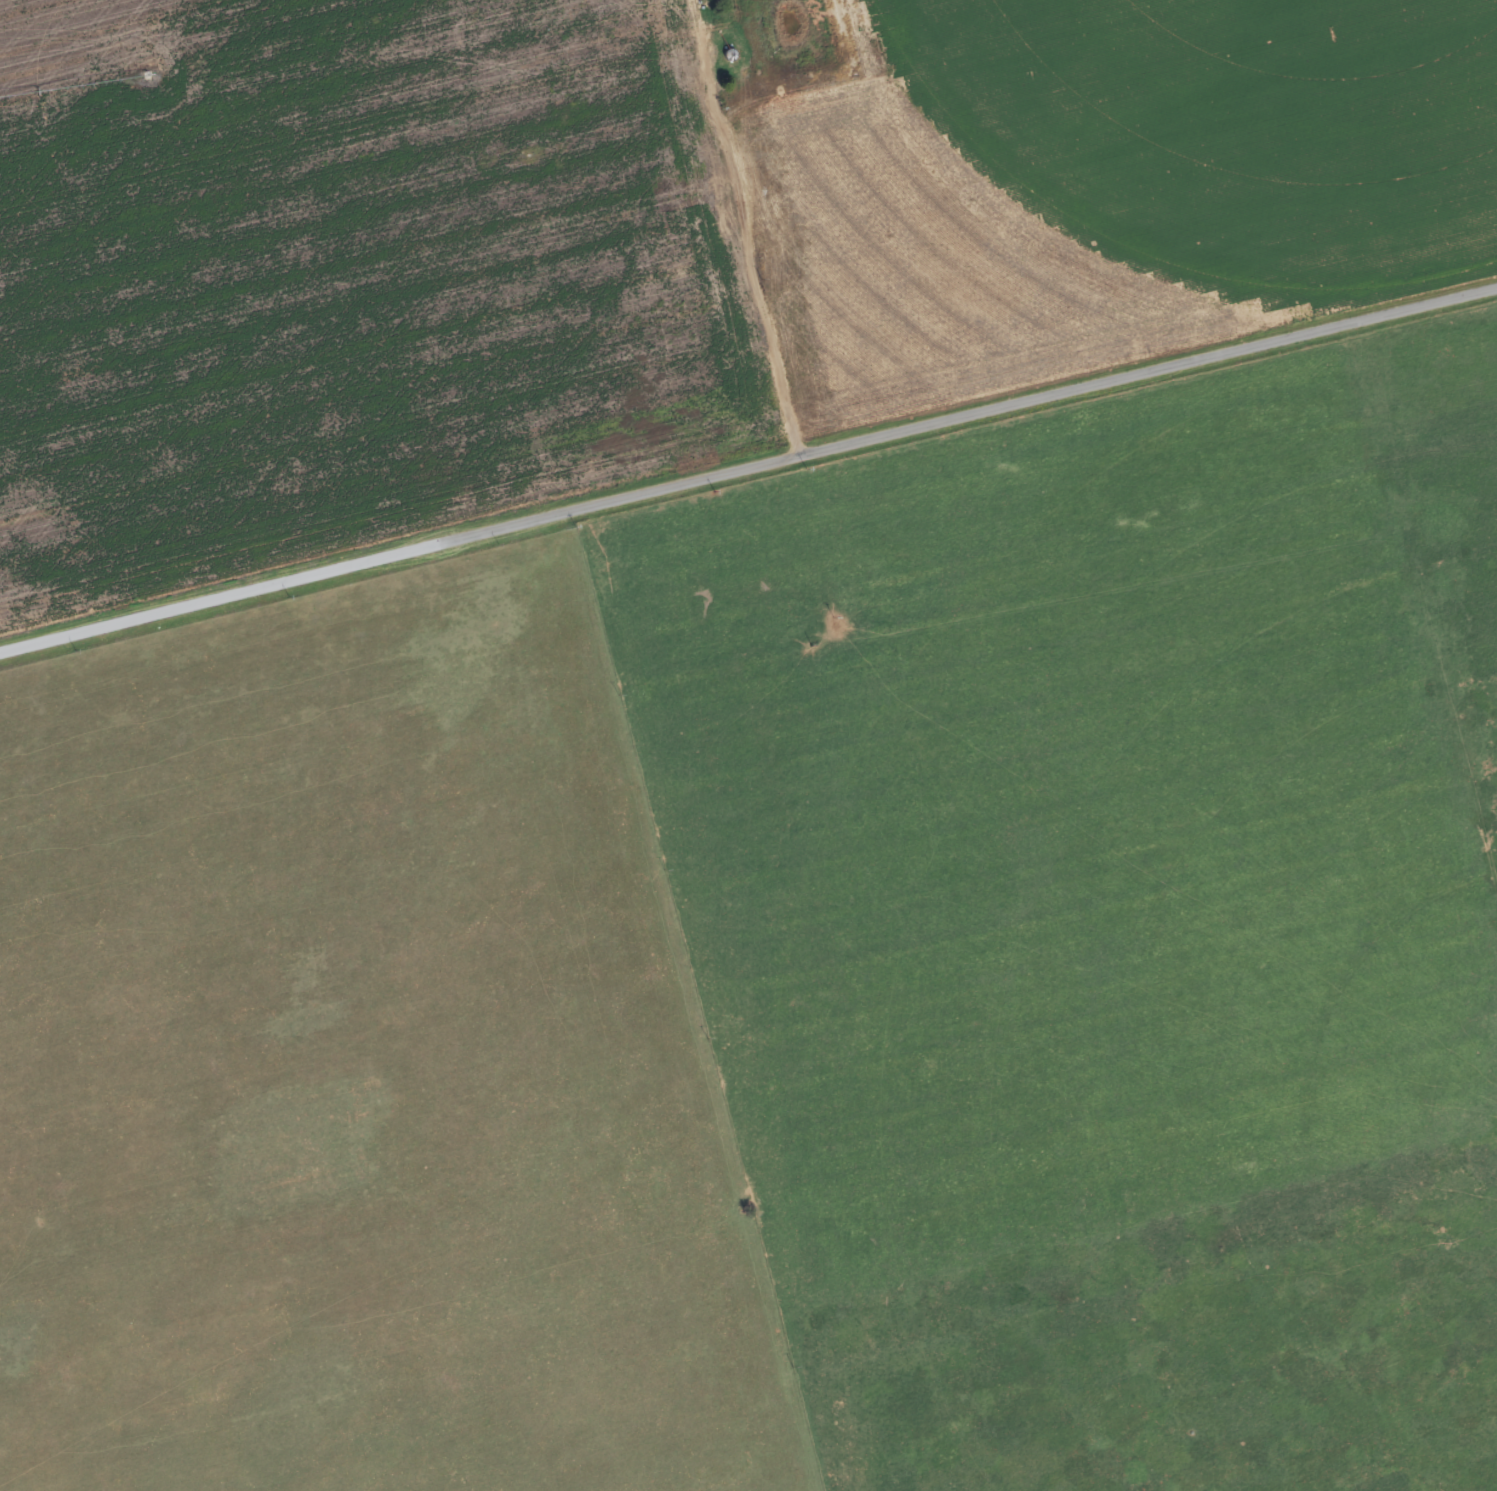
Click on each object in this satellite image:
road: (743, 256)
road: (748, 474)
road: (1160, 1271)

